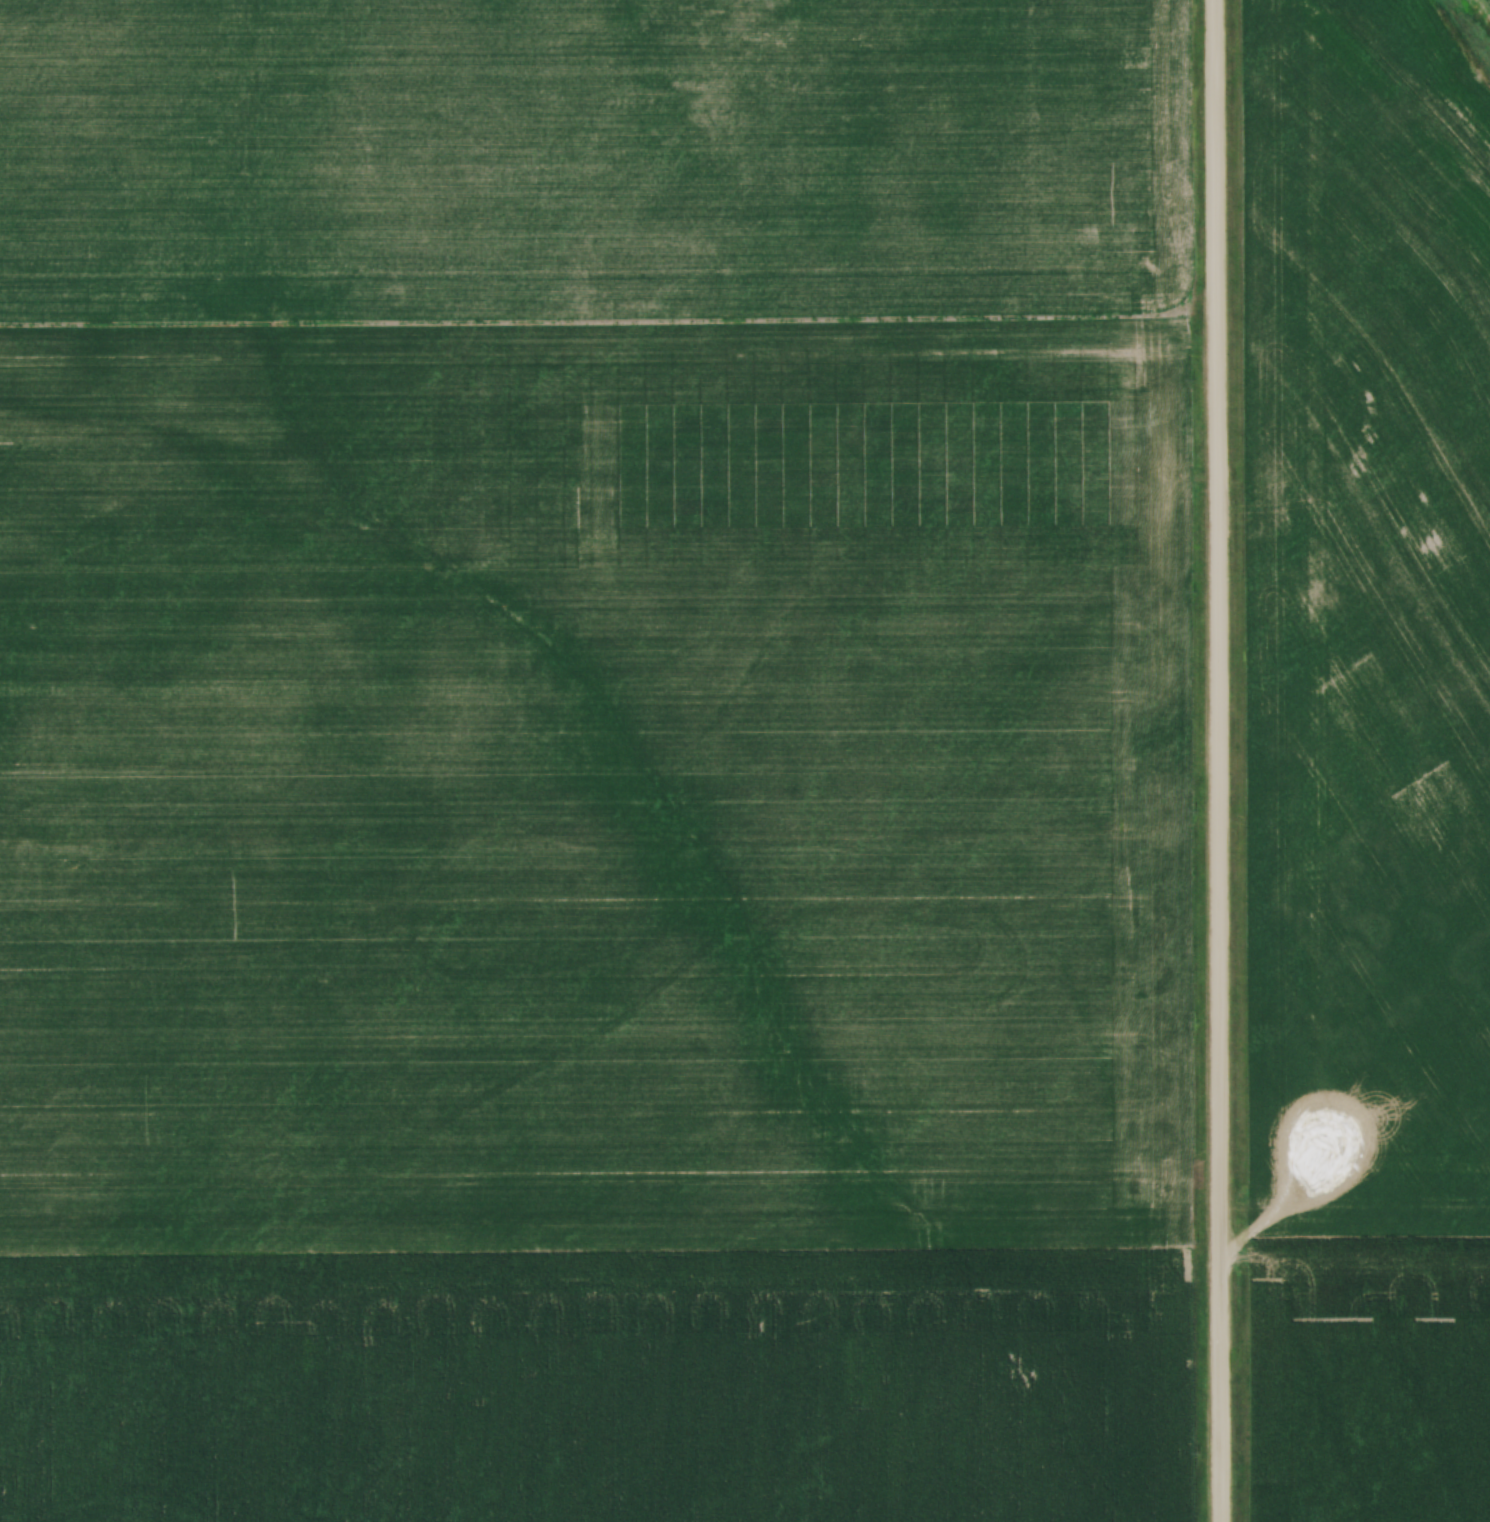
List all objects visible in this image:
road: (1218, 761)

